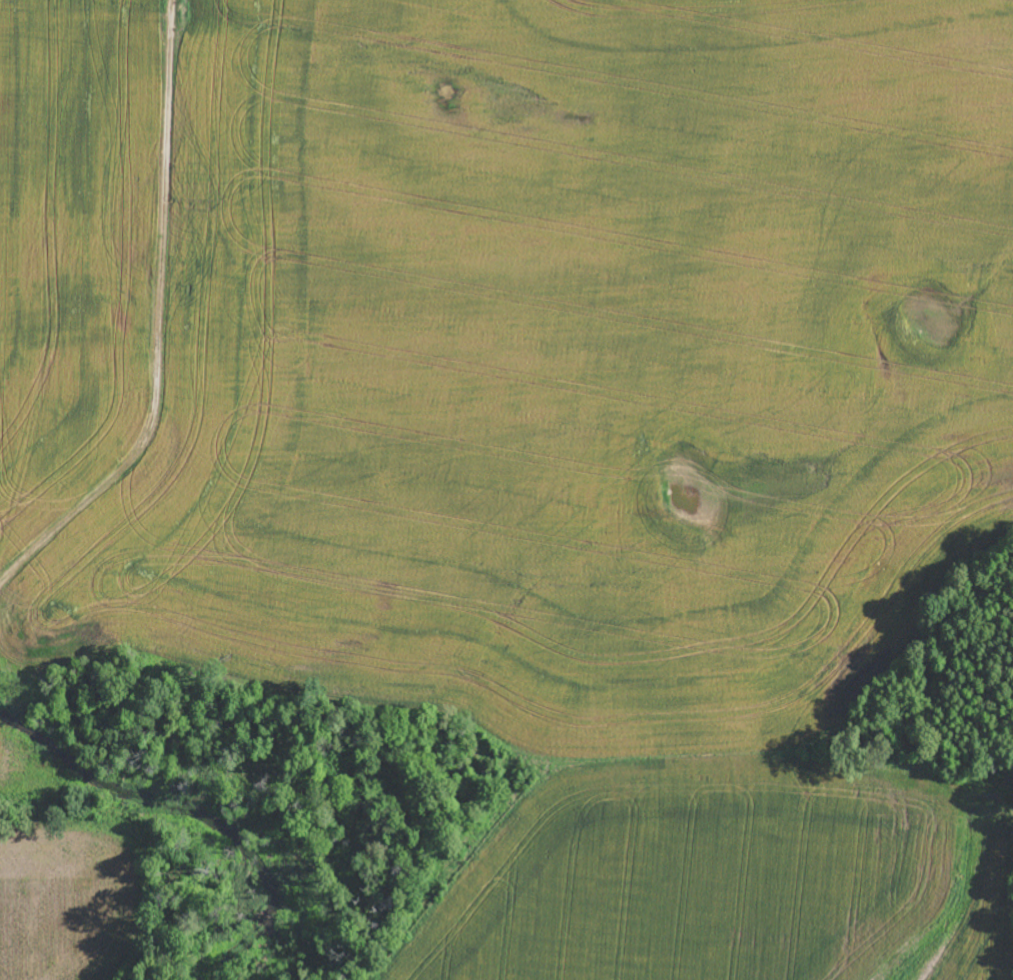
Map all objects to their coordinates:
road: (175, 488)

